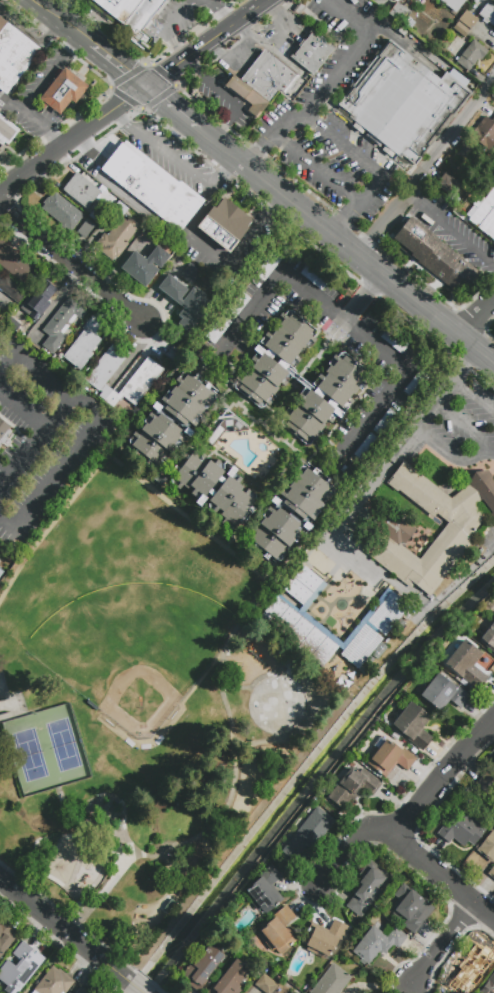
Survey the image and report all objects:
building: (381, 0)
building: (419, 2)
building: (452, 4)
building: (118, 8)
building: (299, 9)
road: (220, 14)
building: (487, 14)
building: (401, 15)
road: (64, 19)
building: (467, 19)
building: (140, 22)
road: (289, 25)
road: (22, 27)
road: (164, 27)
building: (461, 29)
road: (54, 32)
road: (209, 43)
road: (404, 45)
road: (242, 49)
building: (312, 52)
road: (277, 55)
building: (13, 57)
building: (472, 58)
road: (119, 62)
road: (345, 68)
road: (49, 70)
road: (203, 74)
building: (268, 77)
traffic signals: (148, 86)
building: (62, 92)
building: (247, 96)
building: (402, 102)
road: (114, 108)
building: (0, 110)
road: (179, 110)
road: (232, 112)
road: (119, 113)
parking lot: (336, 118)
road: (32, 121)
building: (6, 131)
building: (484, 137)
building: (178, 139)
road: (263, 145)
road: (344, 146)
road: (170, 152)
parking lot: (172, 155)
road: (41, 163)
road: (316, 167)
road: (426, 167)
road: (225, 171)
building: (152, 187)
building: (449, 187)
road: (114, 189)
road: (59, 190)
building: (81, 190)
road: (356, 205)
building: (61, 210)
building: (98, 213)
building: (483, 213)
building: (224, 225)
road: (254, 227)
building: (85, 228)
road: (188, 229)
road: (450, 229)
building: (117, 233)
road: (351, 251)
building: (434, 256)
building: (14, 262)
building: (147, 263)
road: (75, 264)
building: (267, 266)
building: (189, 273)
building: (313, 277)
building: (12, 289)
road: (362, 298)
building: (39, 299)
building: (185, 302)
building: (237, 306)
road: (254, 311)
road: (475, 316)
building: (17, 323)
building: (61, 324)
building: (218, 329)
building: (394, 341)
building: (84, 343)
road: (383, 353)
building: (202, 354)
building: (275, 358)
road: (9, 364)
road: (33, 364)
building: (146, 376)
building: (414, 384)
road: (473, 395)
building: (325, 398)
road: (286, 400)
road: (85, 404)
road: (230, 404)
road: (432, 405)
road: (21, 406)
road: (240, 406)
building: (171, 420)
road: (465, 424)
parking lot: (458, 427)
building: (226, 429)
building: (4, 434)
building: (375, 436)
road: (21, 451)
road: (451, 452)
road: (119, 467)
road: (235, 468)
road: (59, 471)
building: (349, 476)
building: (212, 487)
building: (290, 513)
road: (8, 518)
road: (340, 524)
building: (394, 527)
road: (19, 541)
road: (493, 549)
building: (0, 573)
building: (305, 588)
building: (388, 614)
building: (298, 632)
building: (488, 639)
road: (229, 641)
building: (361, 647)
building: (379, 651)
building: (467, 664)
park: (139, 668)
building: (442, 694)
park: (10, 703)
park: (138, 706)
park: (276, 706)
road: (26, 712)
building: (413, 726)
road: (121, 734)
park: (46, 750)
building: (389, 757)
road: (18, 777)
building: (487, 784)
building: (353, 788)
road: (107, 801)
road: (409, 815)
building: (462, 826)
building: (308, 833)
building: (487, 847)
building: (491, 872)
road: (442, 875)
building: (367, 890)
building: (265, 891)
road: (41, 893)
building: (169, 906)
building: (411, 911)
road: (63, 929)
building: (279, 931)
building: (5, 937)
building: (323, 938)
road: (444, 942)
building: (376, 944)
building: (472, 967)
building: (20, 968)
building: (203, 968)
building: (230, 979)
building: (331, 981)
building: (53, 982)
building: (265, 984)
building: (489, 985)
road: (135, 986)
building: (82, 990)

